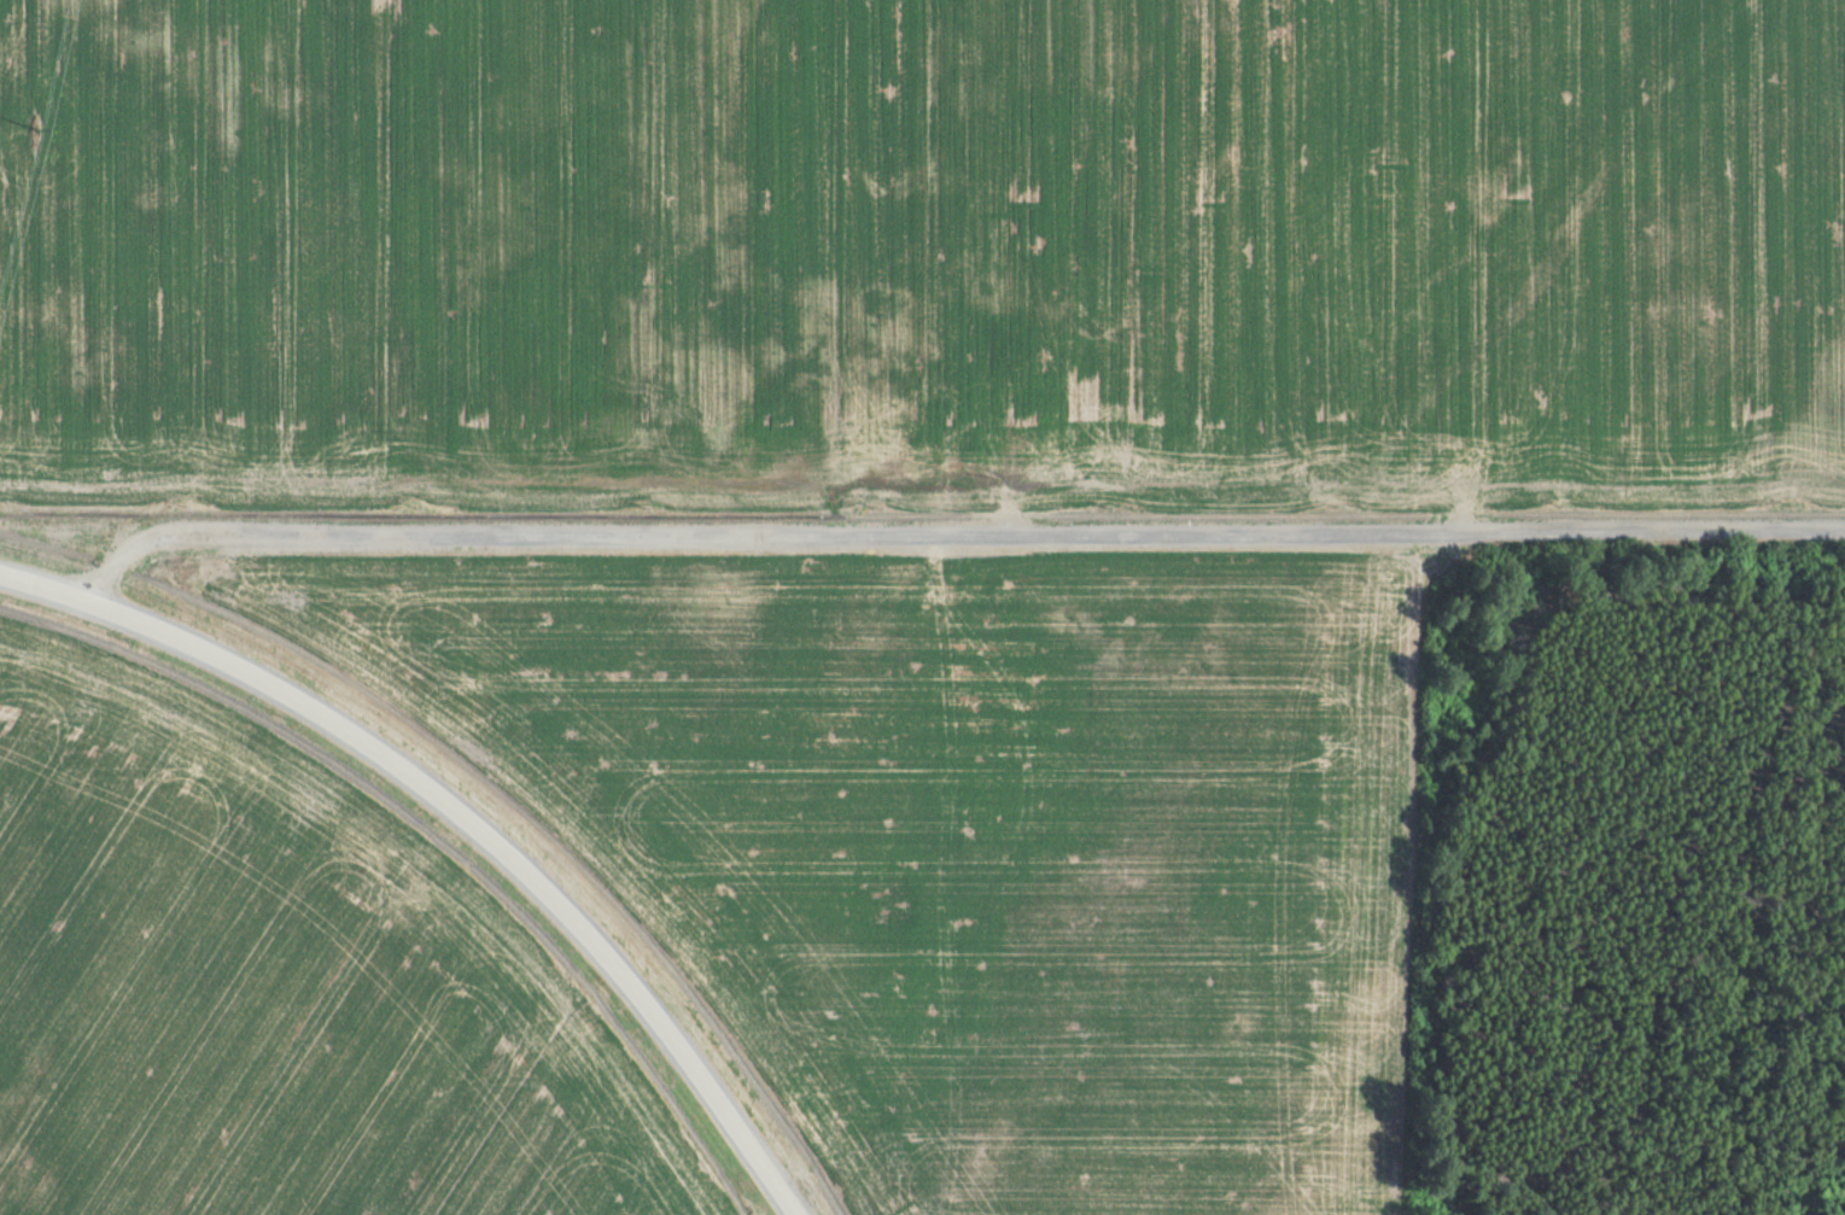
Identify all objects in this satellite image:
road: (952, 535)
road: (459, 817)

